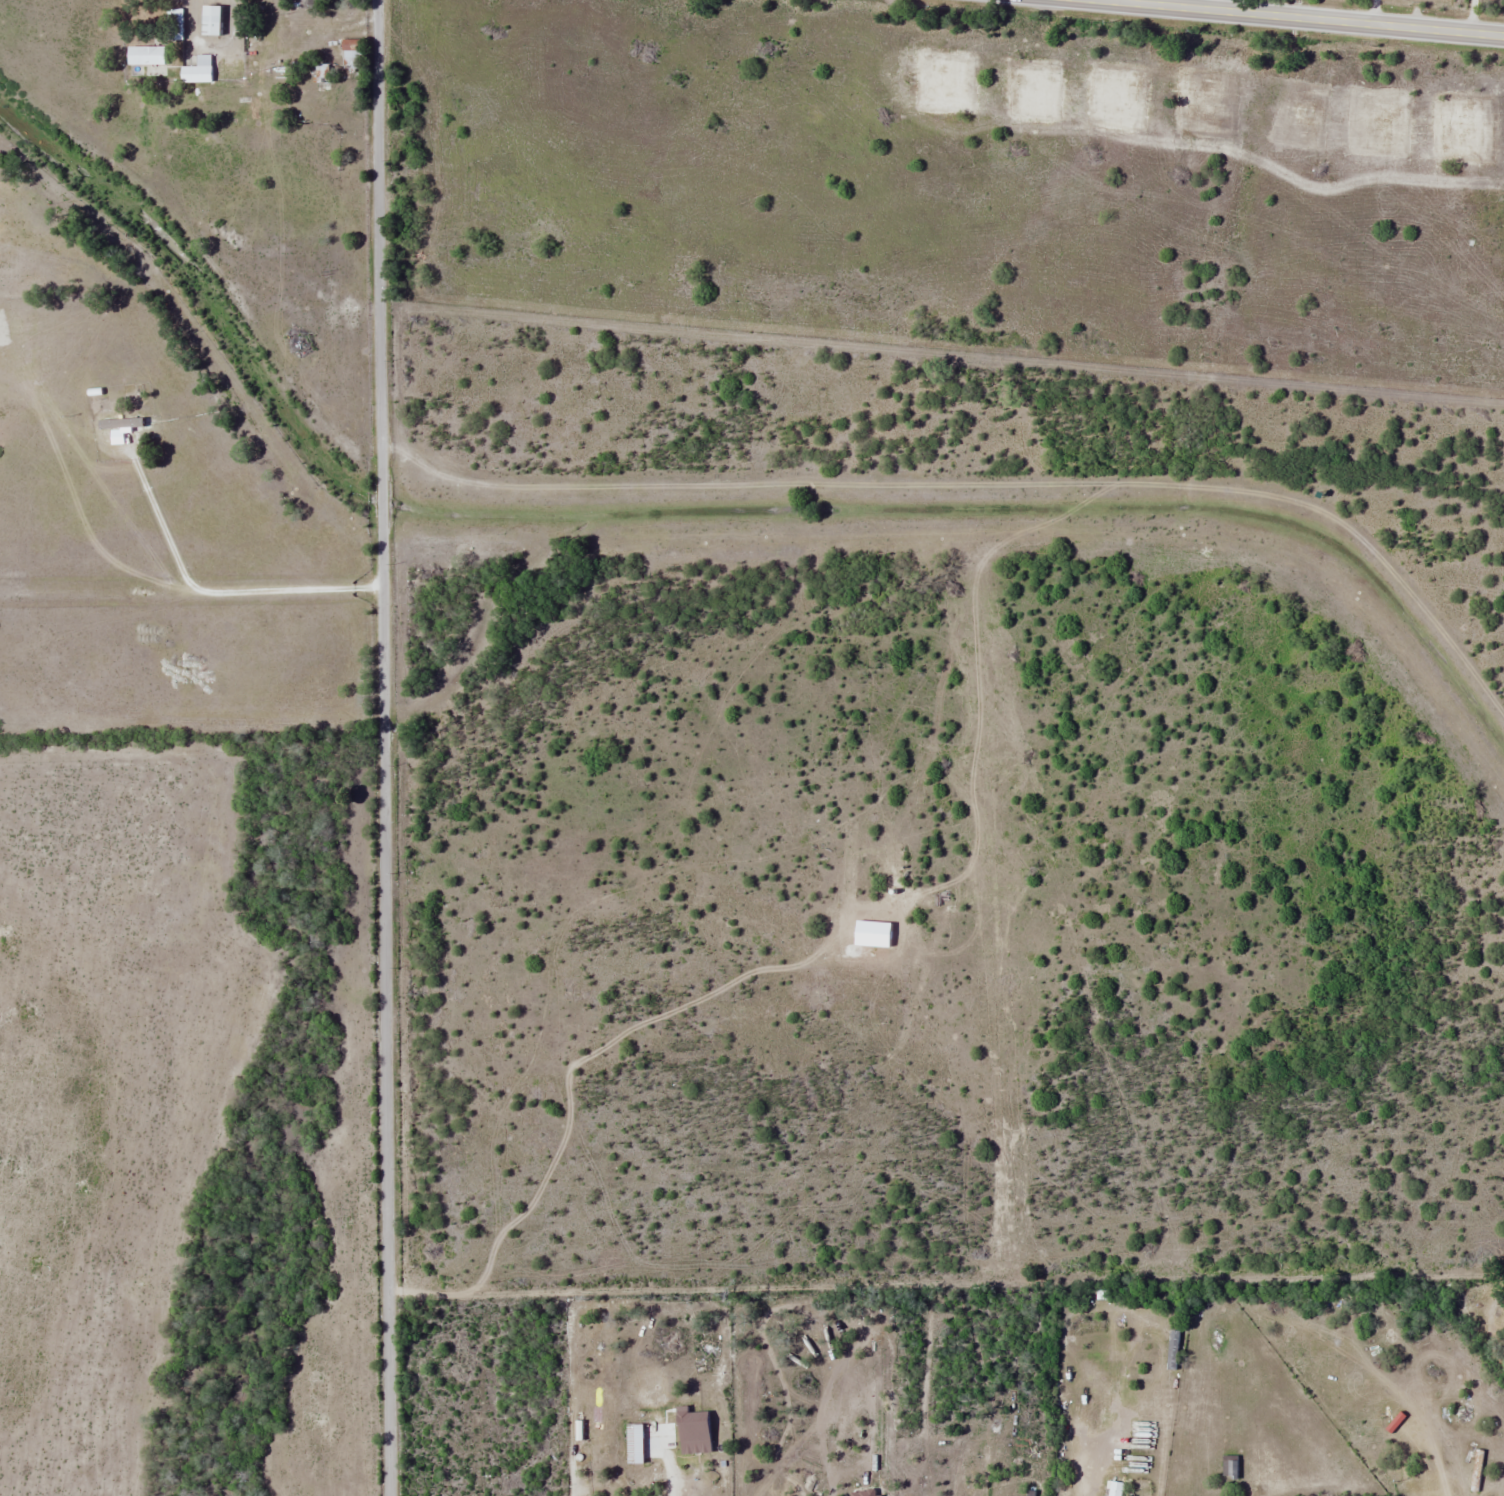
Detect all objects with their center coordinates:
road: (1307, 17)
building: (217, 20)
building: (150, 54)
building: (201, 70)
road: (383, 748)
building: (634, 1443)

